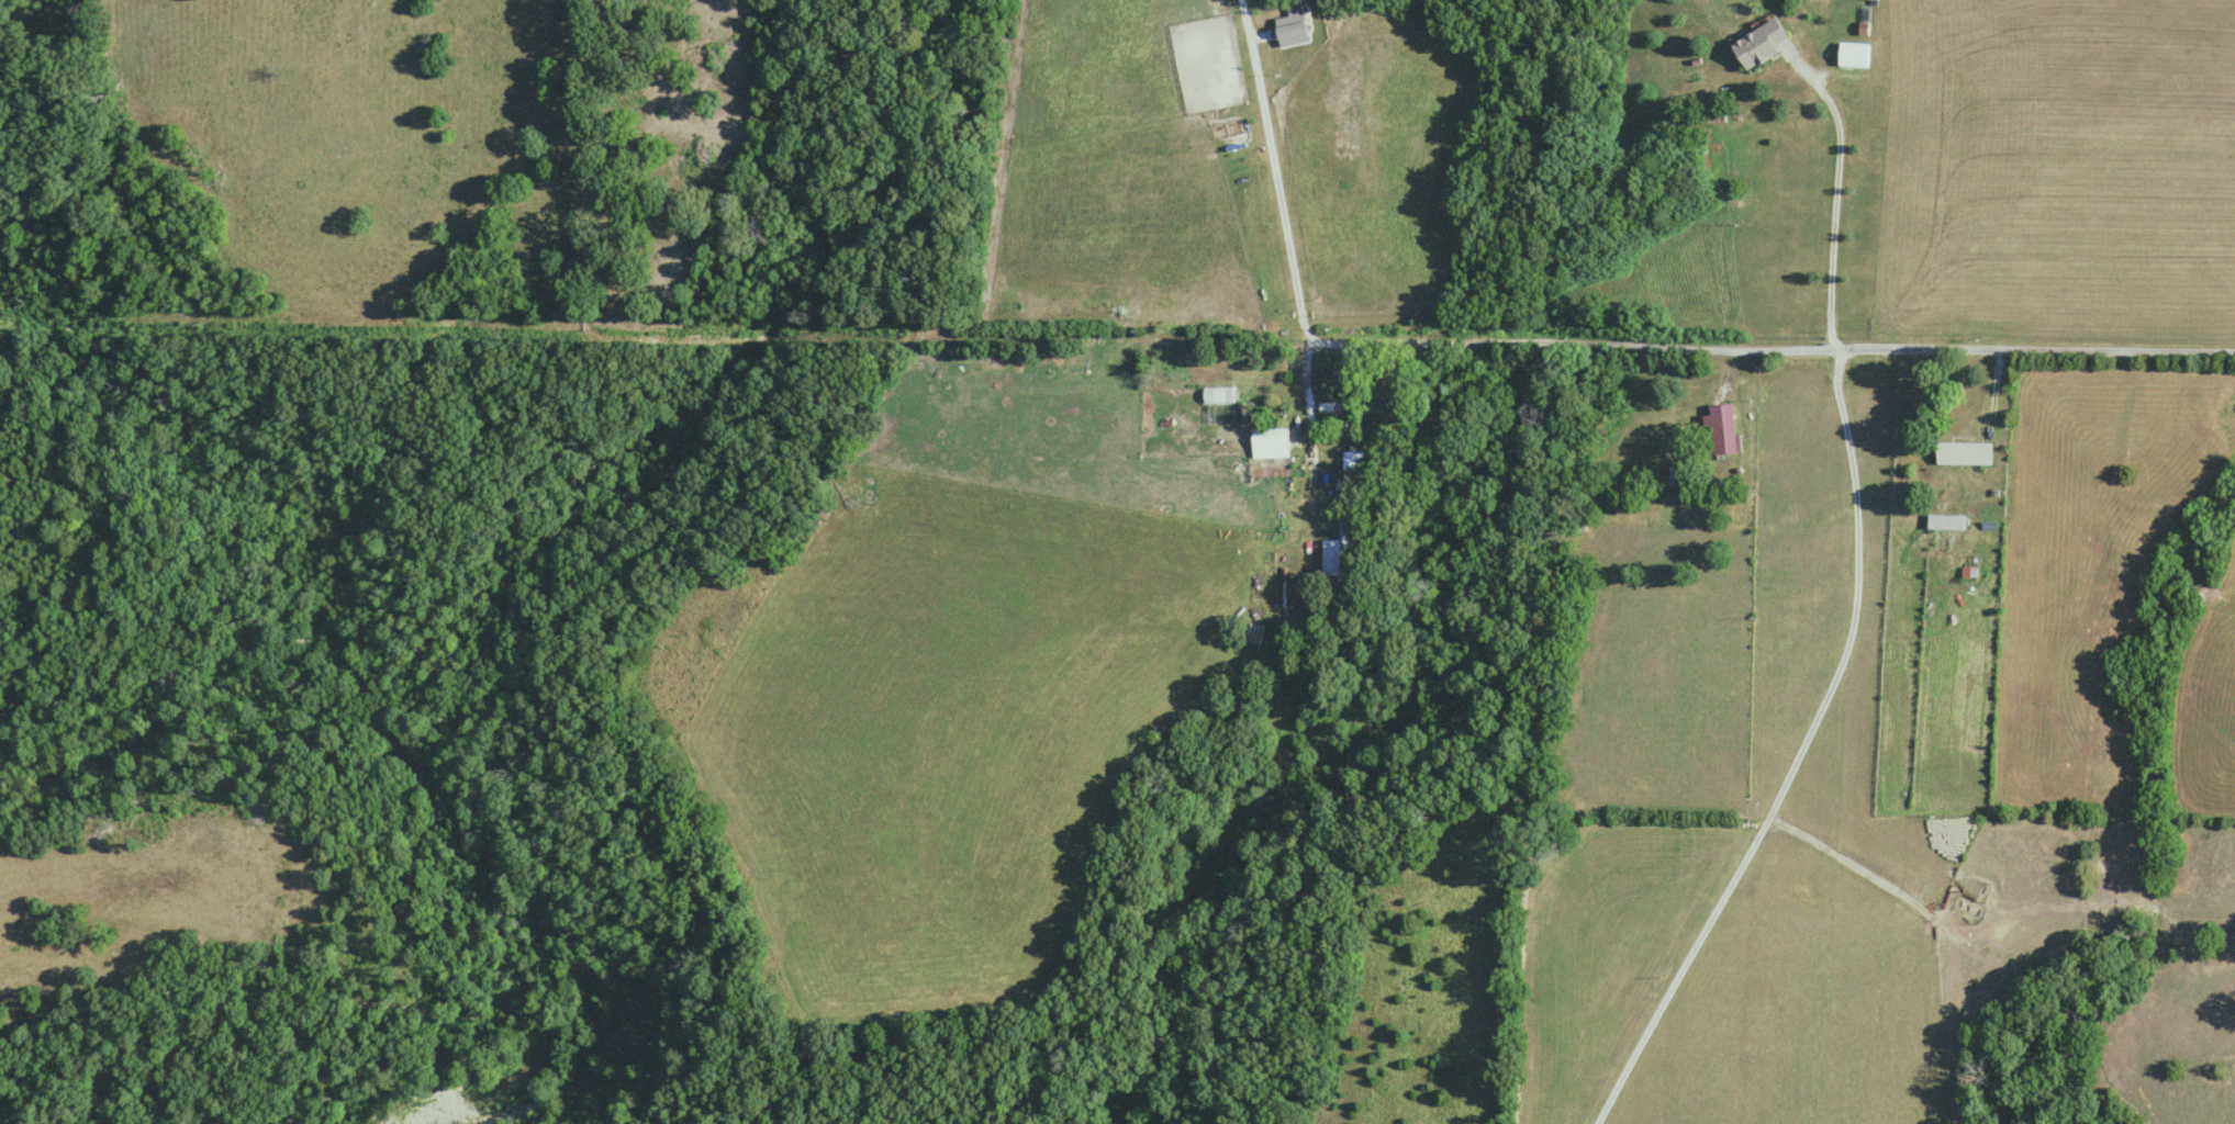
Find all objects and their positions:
building: (1763, 45)
building: (1854, 56)
road: (1843, 193)
road: (1598, 341)
road: (1304, 389)
building: (1218, 396)
building: (1722, 430)
building: (1270, 443)
building: (1964, 454)
building: (1945, 522)
building: (1332, 557)
road: (1802, 758)

